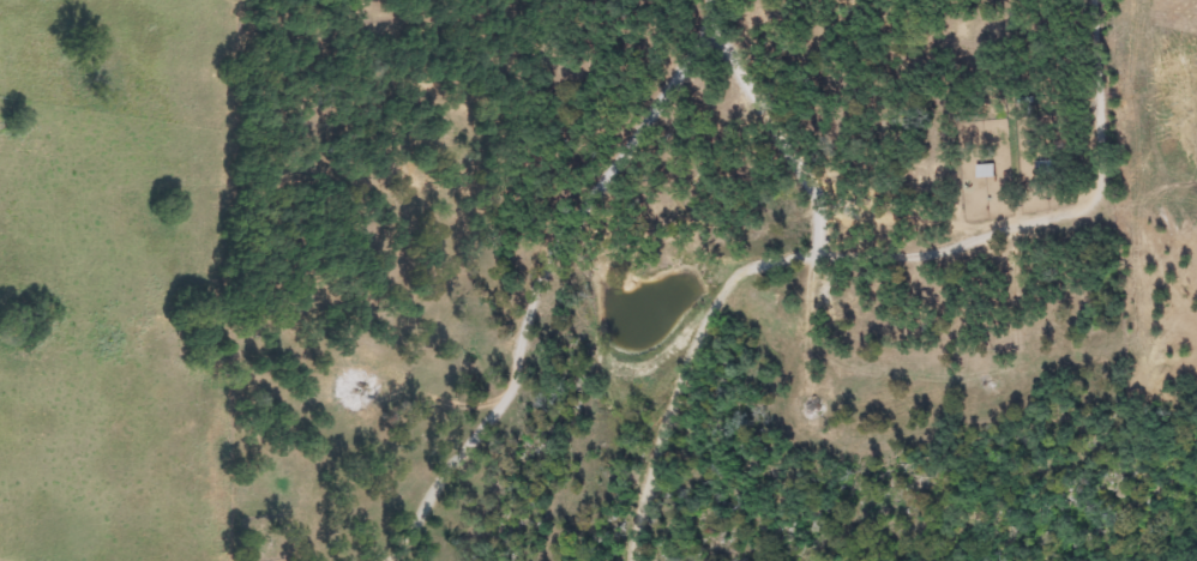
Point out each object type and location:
road: (787, 144)
building: (1042, 168)
building: (982, 170)

